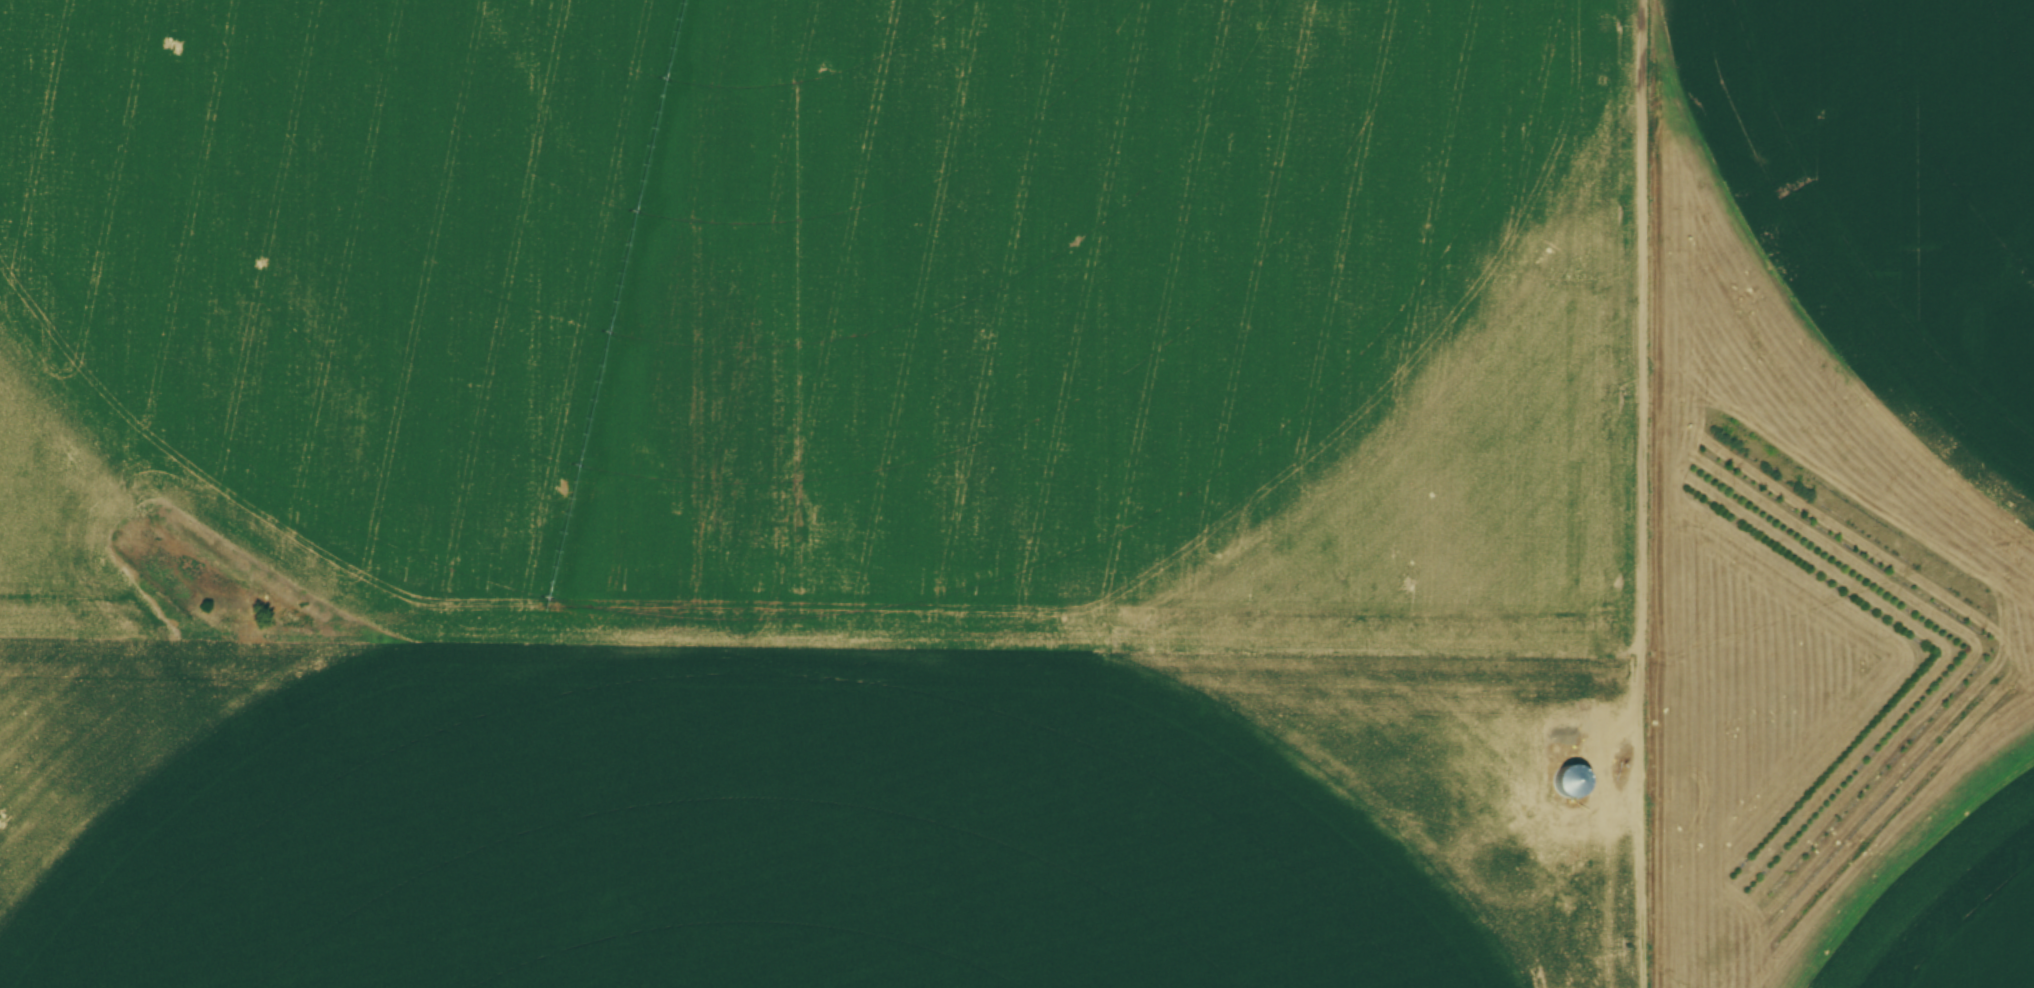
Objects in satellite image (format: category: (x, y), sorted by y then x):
road: (1643, 492)

